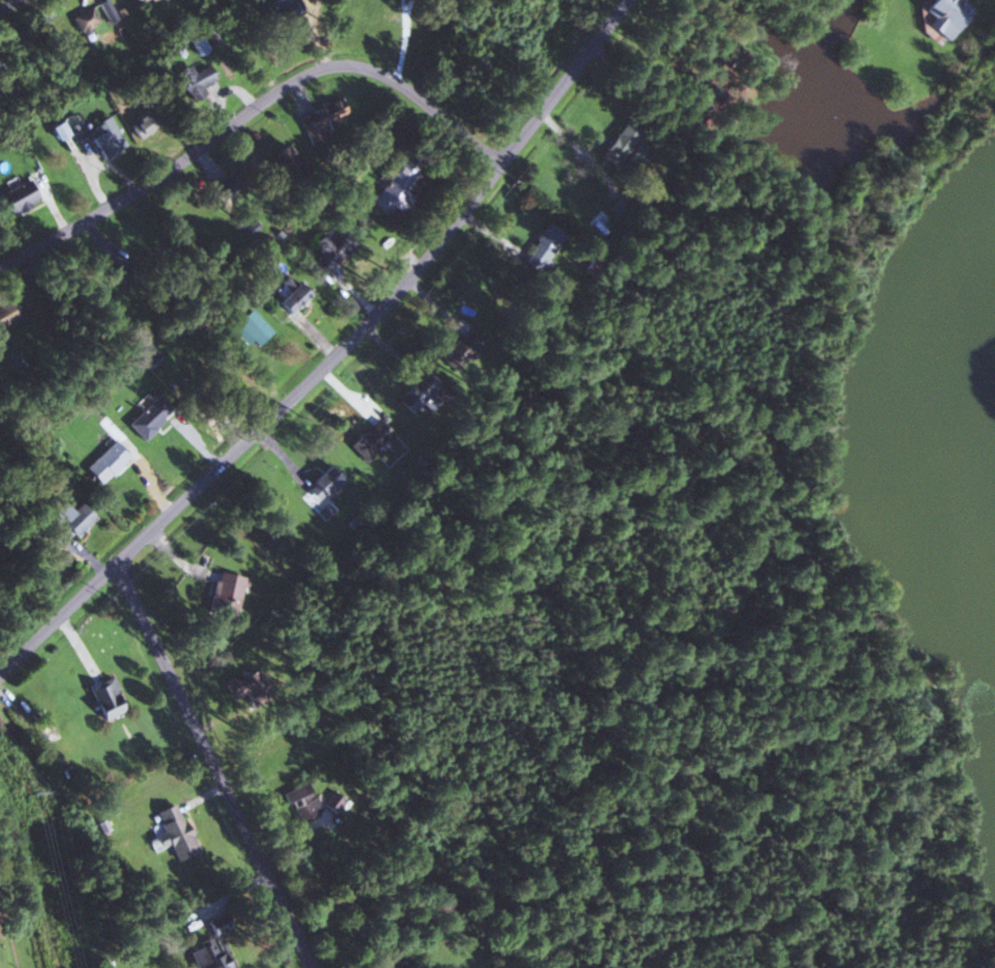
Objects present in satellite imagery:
road: (4, 2)
building: (137, 2)
building: (105, 11)
building: (284, 12)
building: (940, 14)
building: (83, 20)
building: (195, 81)
building: (705, 93)
road: (249, 109)
building: (320, 119)
building: (138, 127)
building: (104, 137)
building: (624, 146)
building: (277, 158)
building: (236, 179)
building: (393, 189)
building: (16, 197)
building: (612, 217)
building: (540, 247)
building: (330, 250)
building: (290, 297)
building: (463, 348)
building: (148, 356)
building: (415, 393)
building: (148, 417)
building: (369, 439)
road: (229, 456)
building: (105, 462)
building: (325, 482)
road: (9, 491)
building: (68, 522)
building: (223, 596)
road: (67, 640)
building: (104, 698)
power tower: (17, 792)
building: (299, 800)
building: (172, 831)
building: (210, 947)
building: (395, 965)

